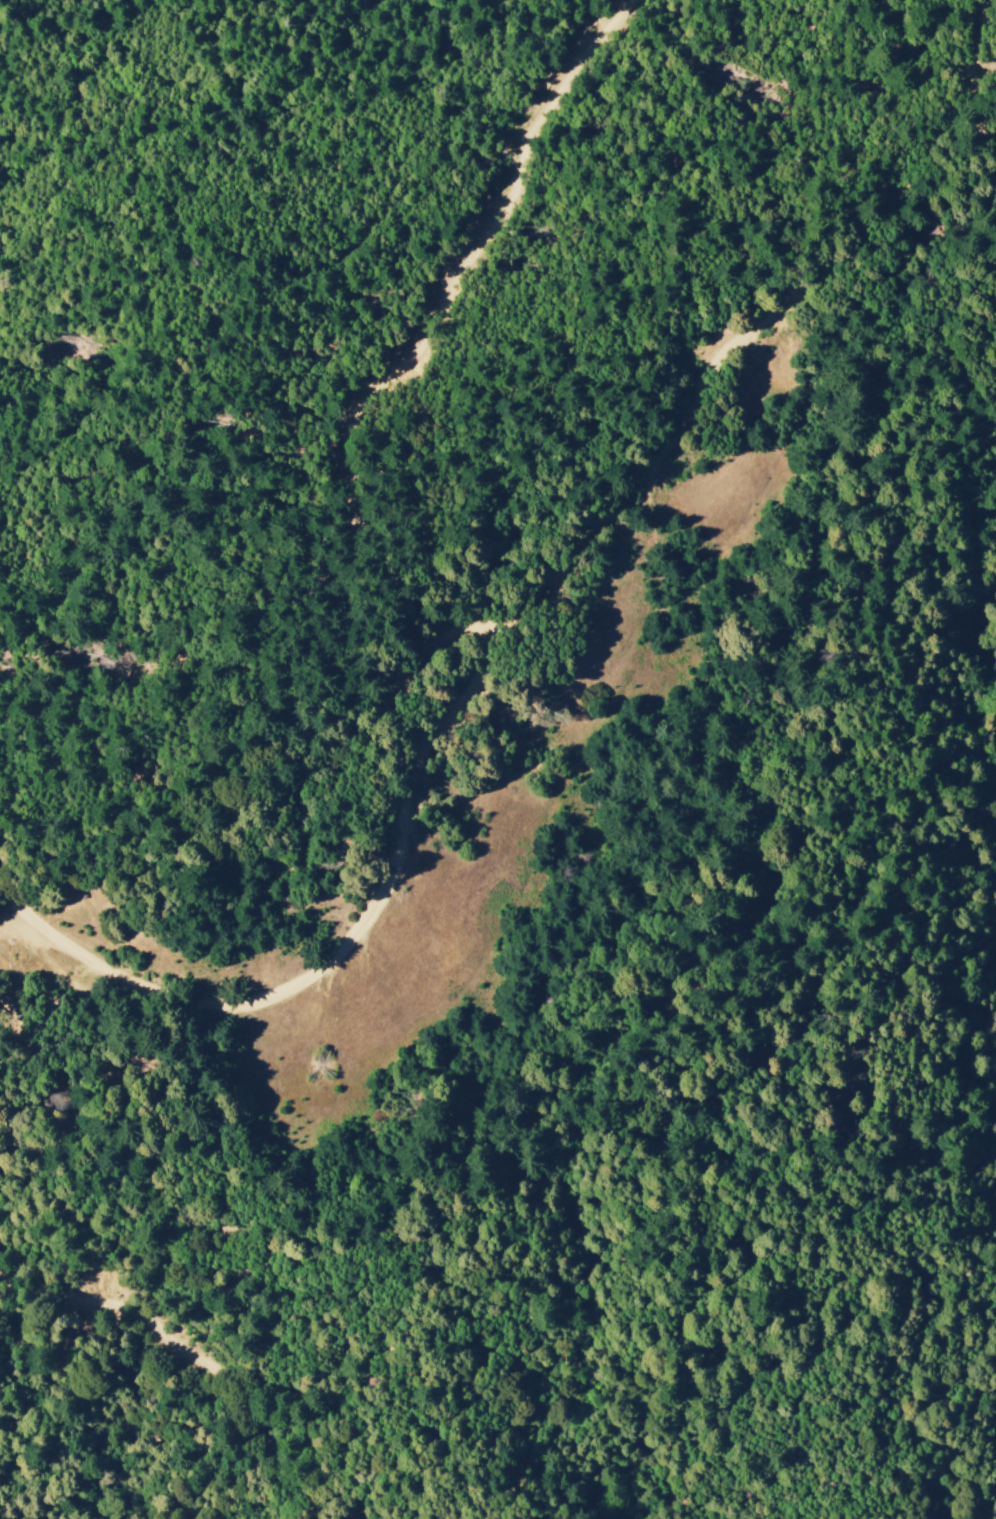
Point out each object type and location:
road: (520, 603)
road: (62, 1092)
road: (191, 1356)

